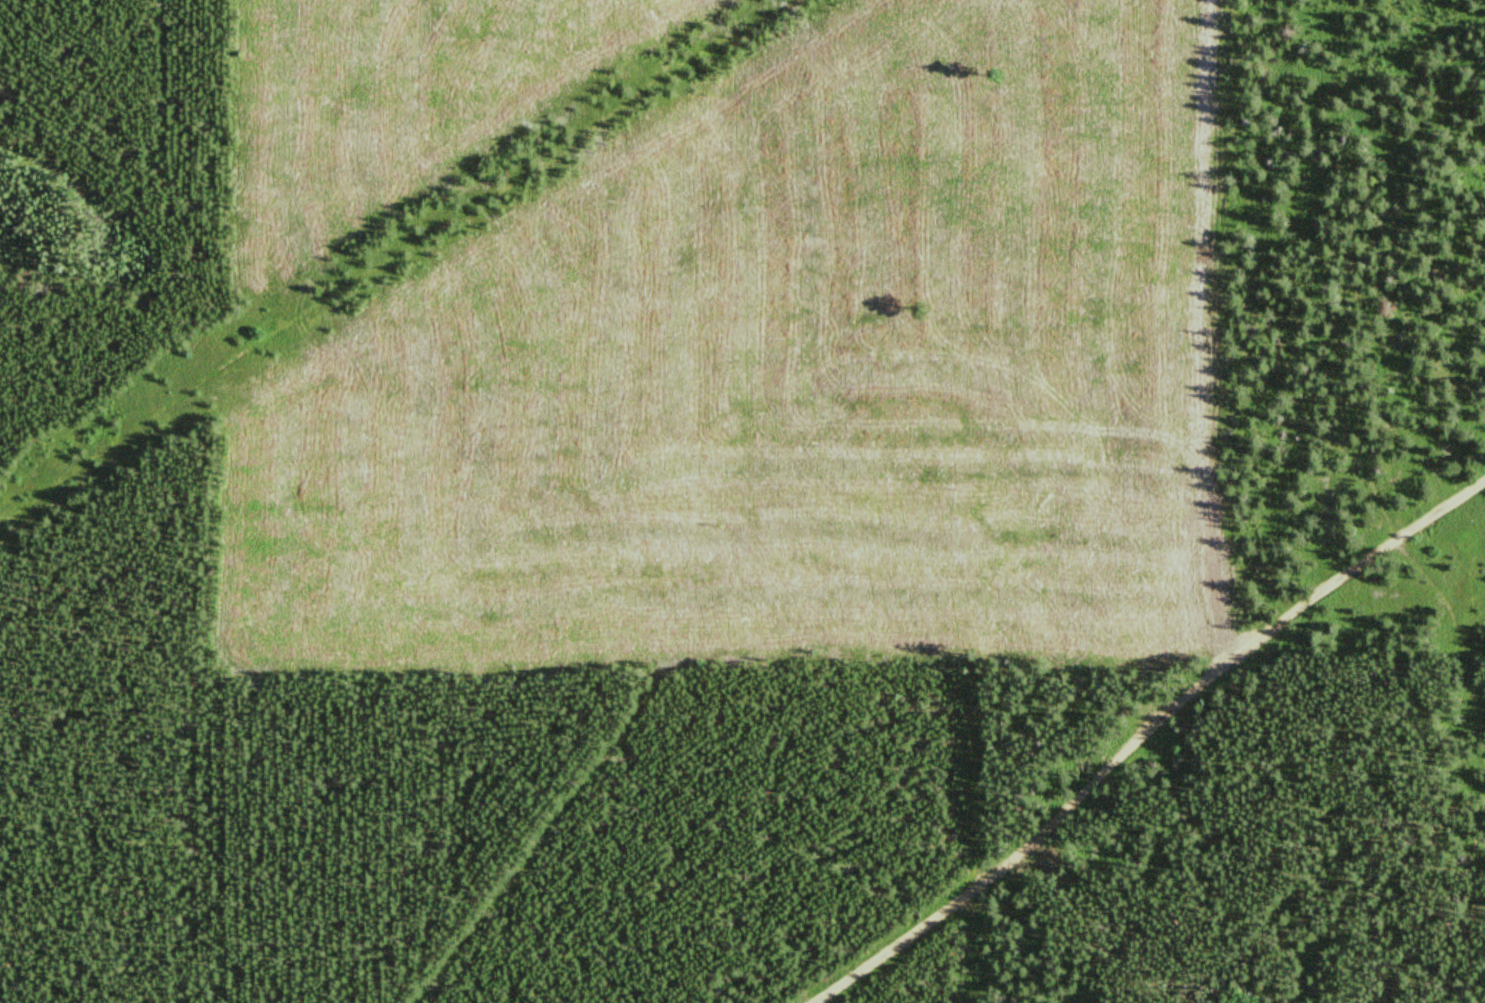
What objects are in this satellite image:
road: (1149, 730)
road: (1393, 915)

